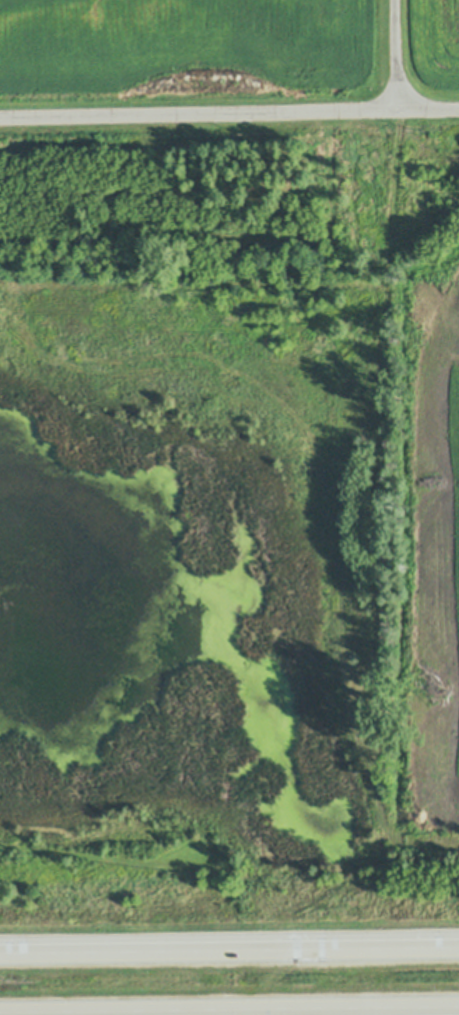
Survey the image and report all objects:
road: (396, 55)
road: (229, 113)
road: (229, 956)
road: (303, 1012)

